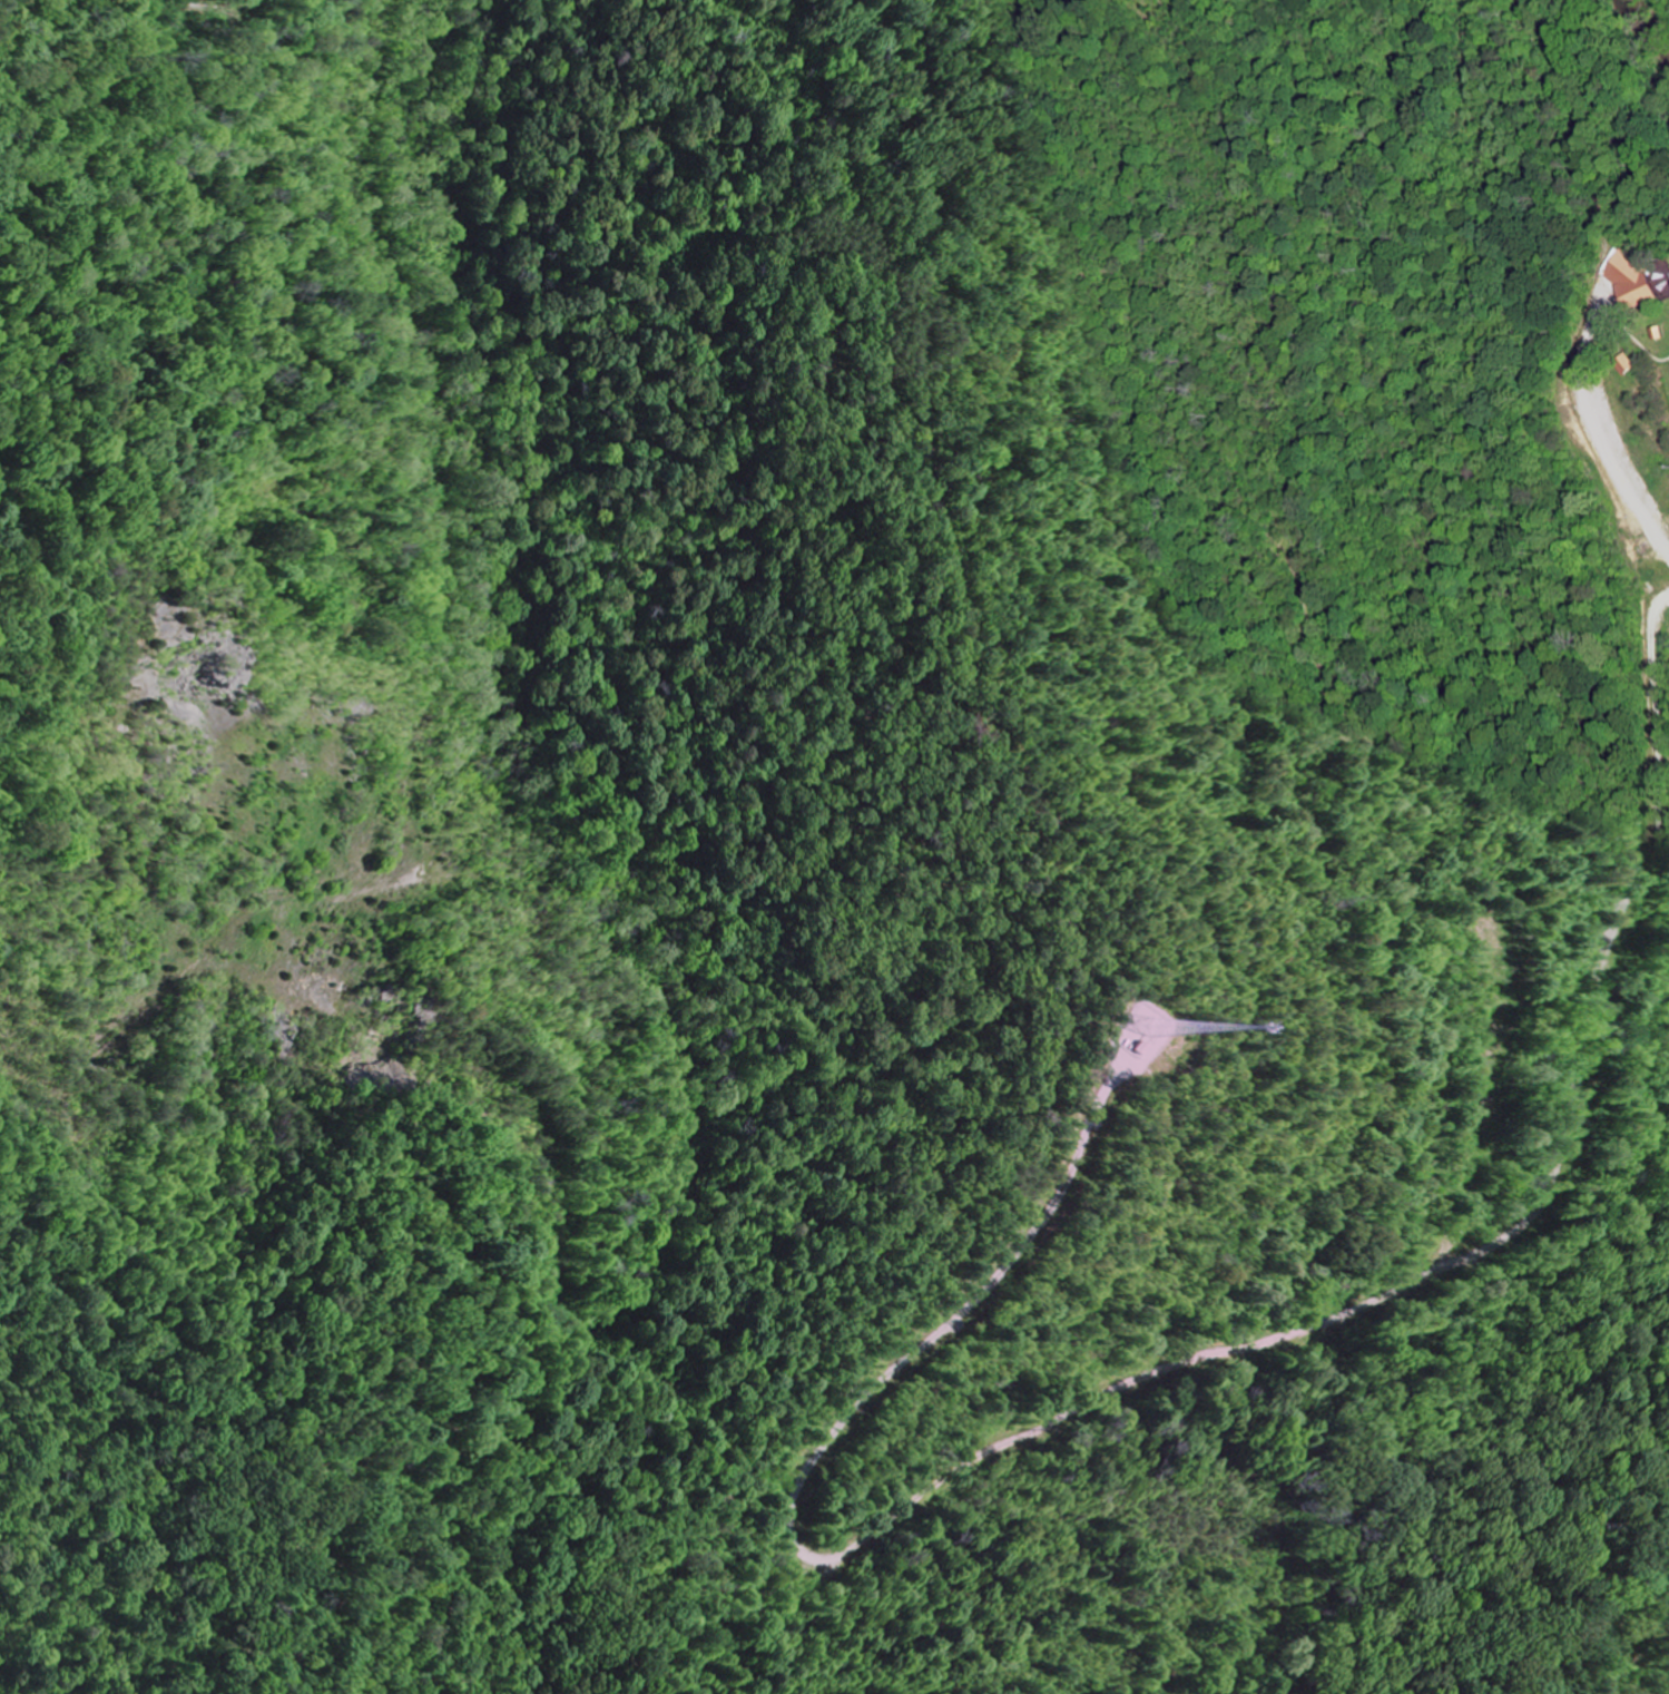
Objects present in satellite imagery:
river: (1643, 23)
road: (1174, 1368)

